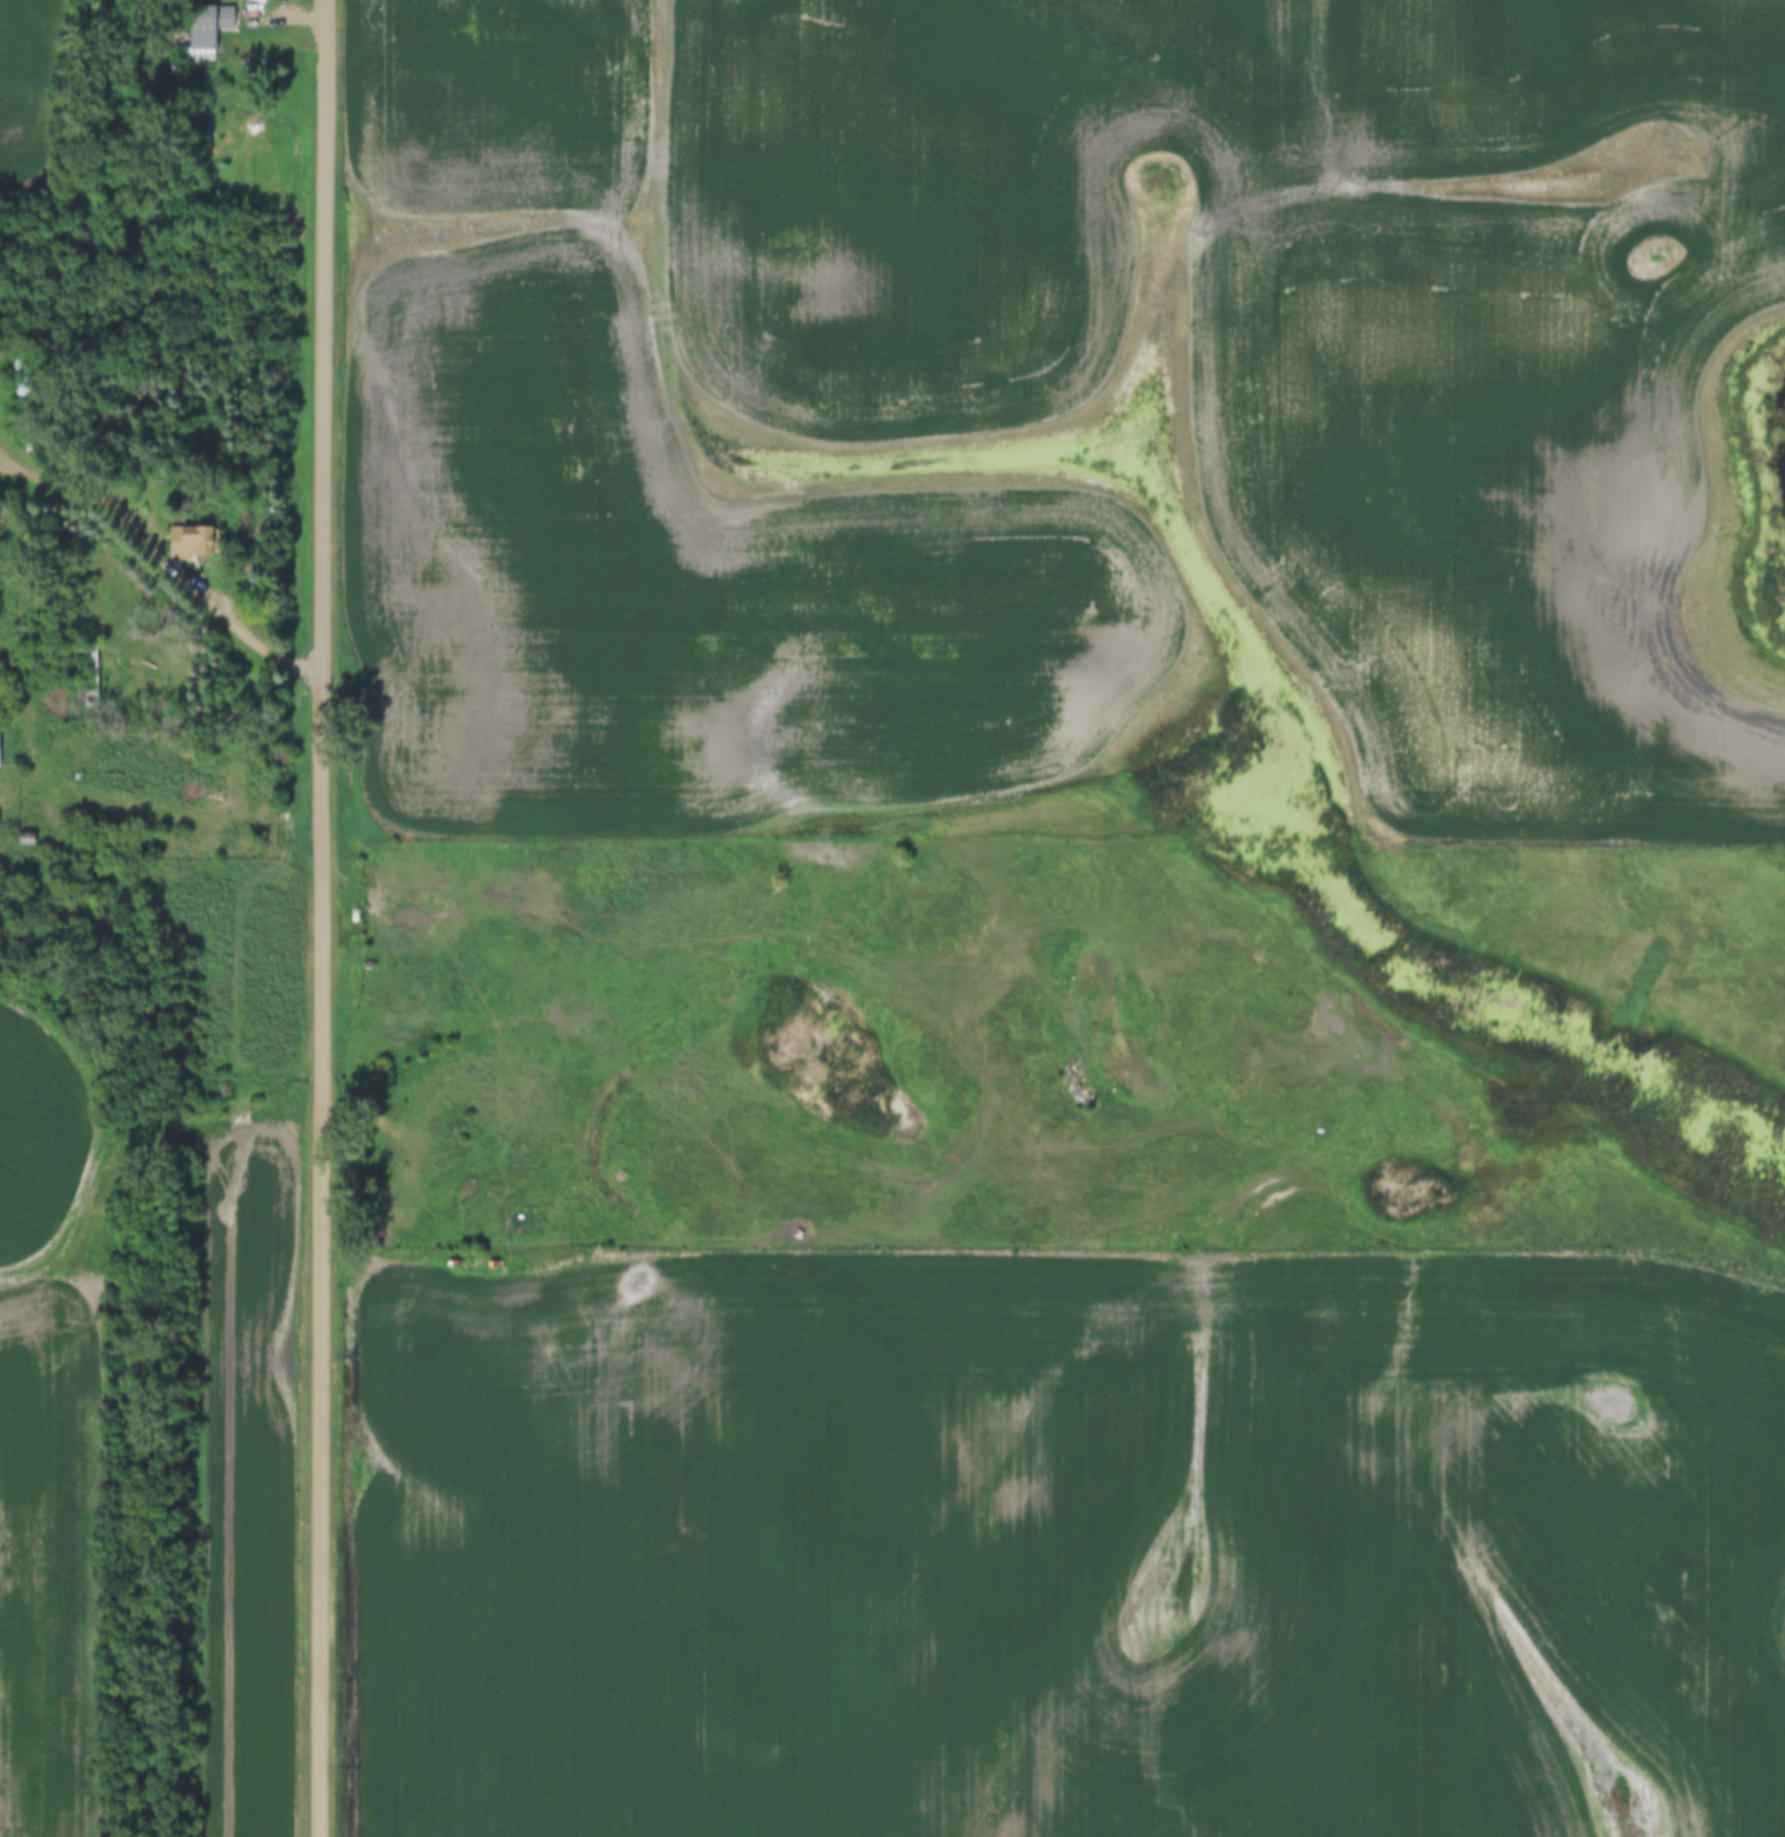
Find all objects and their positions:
building: (205, 25)
building: (190, 543)
road: (168, 558)
building: (89, 678)
road: (48, 789)
road: (324, 918)

